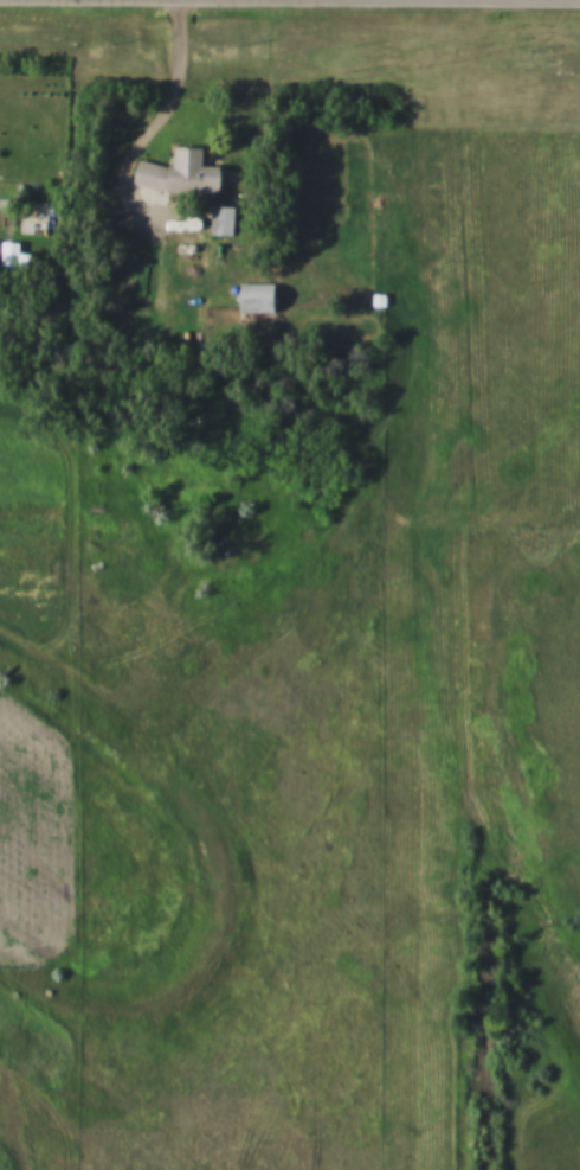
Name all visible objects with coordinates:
road: (167, 108)
building: (175, 172)
building: (219, 219)
building: (13, 260)
building: (252, 299)

